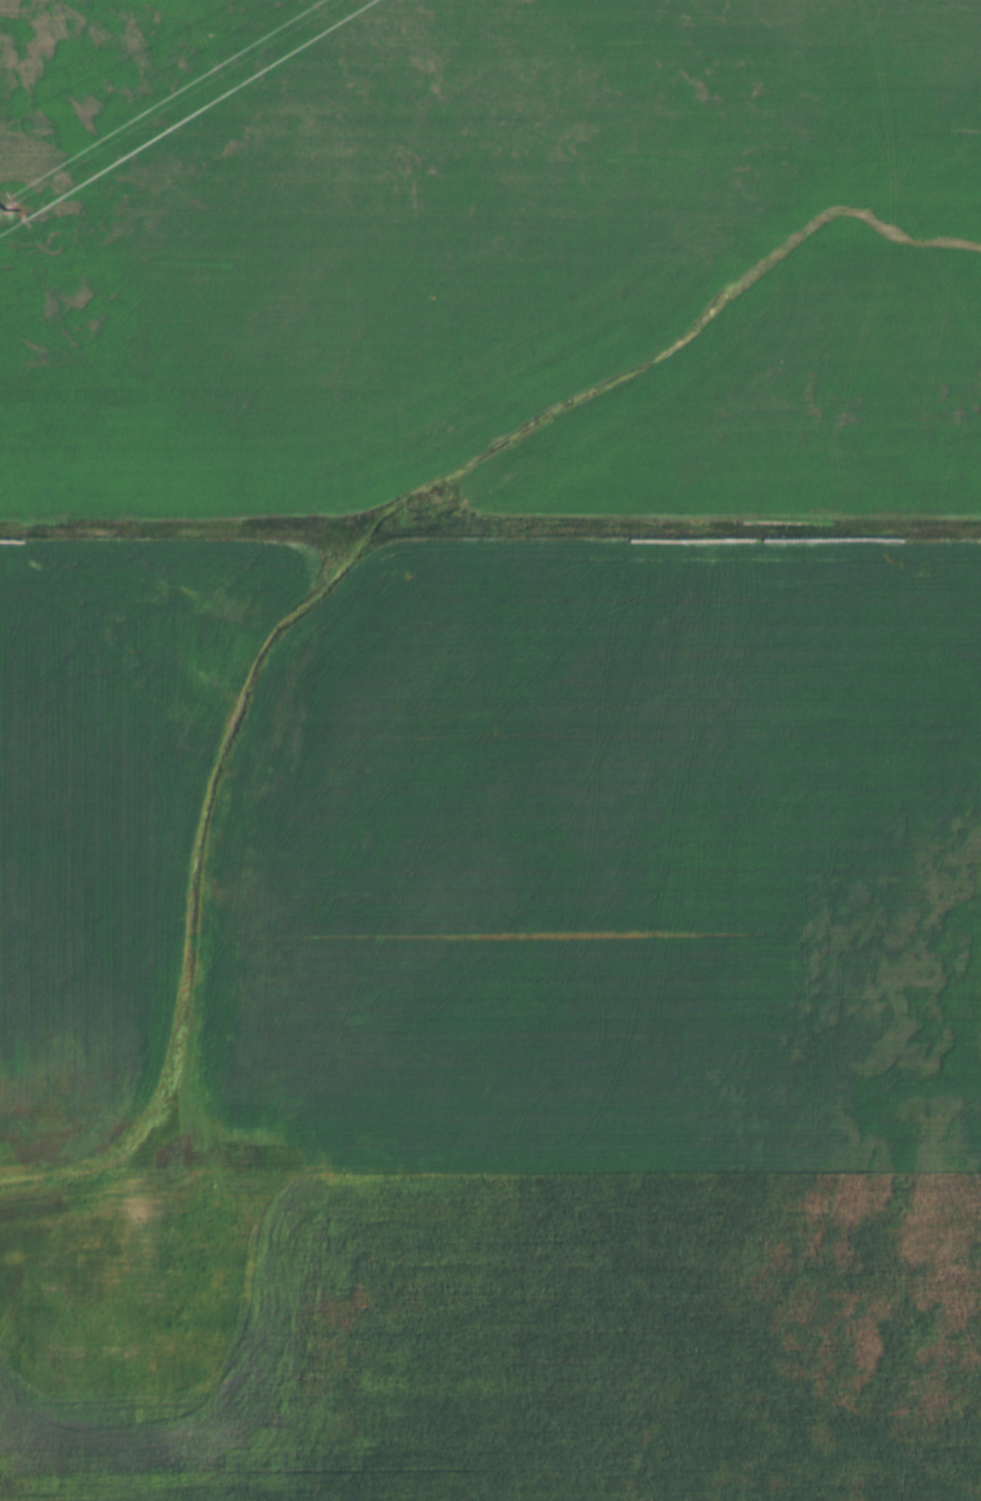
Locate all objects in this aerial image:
power tower: (0, 202)
road: (490, 523)

